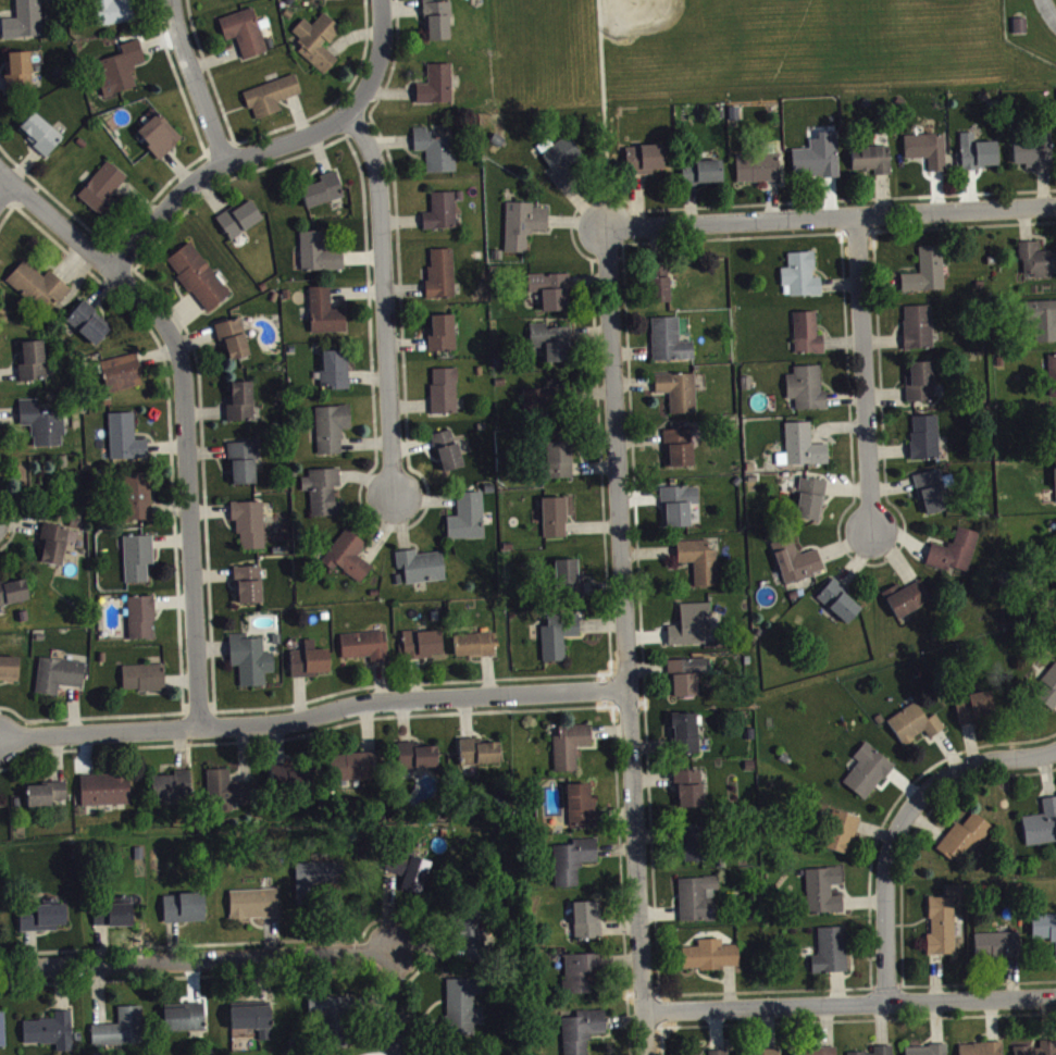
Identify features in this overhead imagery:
park: (855, 1)
track: (1047, 12)
park: (651, 13)
building: (114, 15)
building: (26, 24)
building: (439, 25)
building: (245, 38)
building: (320, 47)
road: (378, 61)
building: (122, 75)
building: (21, 77)
road: (196, 83)
building: (438, 91)
building: (272, 102)
road: (605, 115)
building: (42, 139)
building: (161, 141)
building: (929, 156)
building: (437, 157)
building: (1036, 158)
building: (978, 160)
building: (819, 163)
building: (562, 164)
building: (639, 165)
building: (873, 165)
road: (216, 170)
building: (759, 173)
building: (704, 178)
road: (5, 195)
building: (104, 196)
building: (324, 196)
building: (444, 216)
road: (833, 216)
building: (241, 224)
building: (524, 231)
building: (320, 259)
building: (1038, 265)
building: (928, 278)
building: (443, 280)
building: (803, 281)
building: (200, 283)
building: (660, 287)
building: (39, 291)
building: (552, 296)
road: (388, 305)
building: (326, 318)
building: (1042, 325)
building: (89, 328)
building: (919, 333)
building: (444, 339)
building: (809, 339)
building: (235, 345)
building: (552, 347)
building: (671, 347)
building: (34, 367)
road: (864, 371)
building: (337, 376)
building: (123, 380)
building: (1053, 380)
building: (921, 388)
building: (808, 394)
building: (446, 397)
building: (680, 397)
building: (243, 407)
building: (543, 408)
road: (187, 411)
building: (42, 430)
building: (333, 434)
building: (927, 443)
building: (127, 444)
building: (805, 451)
building: (680, 454)
building: (449, 456)
building: (245, 468)
building: (560, 468)
building: (1055, 477)
building: (324, 497)
building: (933, 497)
building: (138, 502)
building: (812, 505)
building: (680, 511)
building: (557, 522)
building: (469, 523)
building: (251, 530)
building: (57, 549)
building: (956, 557)
building: (349, 562)
building: (139, 563)
building: (797, 567)
building: (700, 568)
building: (422, 572)
building: (570, 585)
building: (250, 591)
building: (14, 598)
building: (908, 604)
building: (841, 608)
building: (142, 623)
building: (692, 631)
building: (560, 642)
road: (629, 643)
building: (424, 649)
building: (475, 650)
building: (367, 651)
building: (252, 666)
building: (311, 667)
building: (10, 674)
building: (61, 681)
building: (687, 682)
building: (145, 684)
building: (1047, 696)
building: (977, 713)
road: (315, 717)
building: (916, 730)
building: (687, 738)
building: (571, 752)
building: (480, 758)
building: (418, 762)
building: (357, 772)
building: (869, 778)
building: (293, 783)
building: (173, 792)
building: (691, 794)
building: (107, 796)
building: (229, 796)
building: (47, 800)
building: (583, 811)
road: (907, 824)
building: (1042, 831)
building: (842, 839)
building: (966, 845)
building: (695, 849)
building: (574, 867)
building: (410, 876)
building: (319, 885)
building: (824, 896)
building: (957, 897)
building: (699, 905)
building: (254, 909)
building: (186, 914)
building: (116, 919)
building: (44, 923)
building: (588, 926)
building: (1044, 932)
building: (943, 933)
building: (475, 942)
building: (999, 952)
building: (832, 957)
building: (712, 961)
road: (198, 964)
building: (583, 979)
road: (849, 1002)
road: (398, 1004)
building: (465, 1011)
building: (252, 1023)
building: (186, 1025)
building: (333, 1025)
building: (122, 1034)
building: (584, 1034)
building: (3, 1037)
building: (52, 1037)
building: (982, 1052)
building: (1041, 1052)
building: (884, 1053)
building: (929, 1053)
building: (819, 1054)

